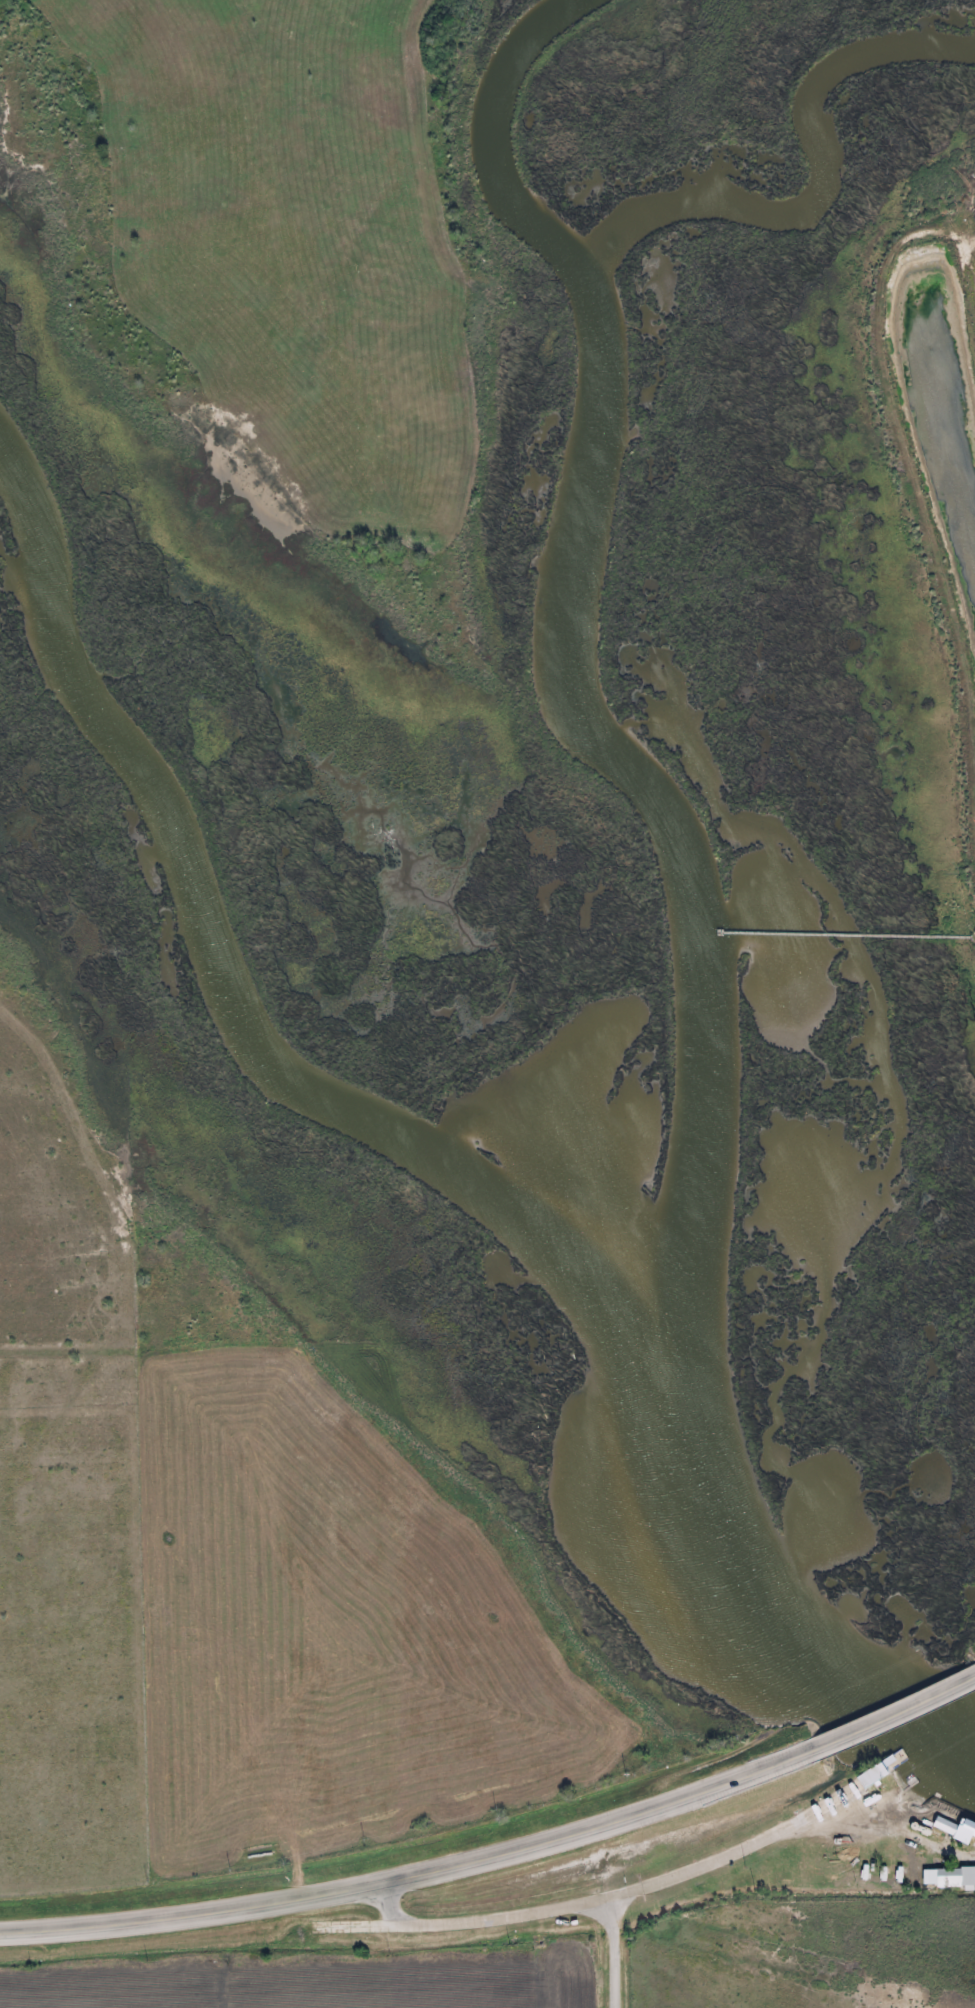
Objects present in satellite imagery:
road: (895, 1715)
building: (883, 1769)
building: (957, 1830)
road: (415, 1877)
building: (950, 1878)
road: (620, 1896)
road: (612, 1953)

